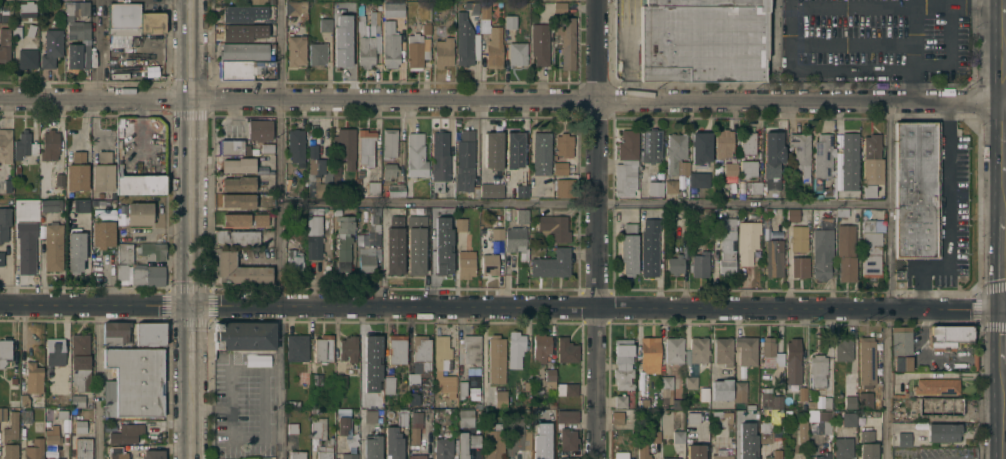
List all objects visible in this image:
building: (257, 1)
road: (871, 2)
road: (976, 2)
building: (701, 3)
building: (536, 4)
building: (472, 7)
building: (559, 7)
building: (27, 8)
building: (296, 8)
building: (393, 9)
road: (1005, 10)
building: (242, 15)
building: (348, 18)
building: (70, 19)
building: (135, 19)
building: (484, 19)
building: (510, 21)
building: (374, 22)
building: (325, 24)
building: (426, 26)
road: (772, 27)
building: (31, 29)
building: (17, 32)
building: (242, 32)
building: (133, 38)
building: (463, 40)
building: (566, 40)
building: (365, 41)
building: (539, 43)
building: (701, 43)
building: (390, 44)
building: (4, 45)
building: (51, 47)
building: (344, 48)
building: (295, 49)
building: (494, 49)
building: (416, 50)
road: (597, 50)
road: (101, 51)
building: (244, 51)
building: (443, 51)
building: (317, 52)
building: (517, 53)
building: (78, 55)
building: (27, 57)
road: (1004, 63)
road: (869, 65)
building: (236, 69)
building: (130, 75)
road: (912, 84)
road: (298, 101)
road: (800, 102)
building: (260, 129)
road: (1004, 141)
building: (389, 142)
building: (723, 142)
building: (747, 143)
building: (49, 144)
building: (563, 144)
building: (5, 145)
building: (24, 145)
building: (230, 146)
building: (296, 146)
building: (345, 146)
building: (650, 146)
building: (700, 146)
building: (267, 147)
building: (365, 147)
building: (513, 150)
building: (492, 151)
building: (398, 152)
building: (541, 153)
building: (676, 153)
building: (801, 153)
building: (415, 155)
building: (822, 156)
building: (871, 158)
building: (772, 159)
building: (439, 160)
building: (848, 161)
building: (465, 162)
building: (626, 163)
building: (242, 165)
building: (560, 167)
building: (730, 168)
building: (747, 168)
building: (389, 170)
building: (77, 171)
building: (103, 171)
building: (335, 172)
building: (360, 172)
building: (317, 177)
building: (57, 179)
building: (136, 179)
building: (699, 179)
building: (358, 180)
building: (238, 183)
building: (670, 185)
building: (754, 185)
building: (814, 185)
building: (373, 187)
building: (563, 187)
building: (655, 187)
building: (336, 189)
building: (916, 189)
building: (396, 190)
building: (490, 191)
building: (521, 191)
building: (868, 191)
building: (93, 194)
road: (1003, 197)
building: (238, 200)
building: (94, 202)
building: (49, 205)
building: (82, 205)
road: (584, 206)
building: (298, 207)
building: (767, 210)
building: (336, 211)
building: (841, 211)
building: (140, 212)
building: (290, 213)
building: (102, 214)
building: (374, 214)
building: (448, 214)
building: (521, 215)
building: (793, 215)
road: (947, 216)
building: (246, 218)
building: (4, 222)
building: (766, 222)
building: (460, 224)
building: (706, 226)
building: (553, 227)
road: (192, 229)
road: (281, 229)
building: (766, 232)
building: (102, 233)
building: (497, 233)
building: (316, 235)
building: (237, 236)
building: (798, 237)
building: (344, 239)
building: (747, 240)
building: (516, 241)
building: (415, 244)
building: (53, 246)
building: (394, 246)
building: (727, 246)
building: (871, 247)
building: (628, 248)
building: (649, 248)
building: (822, 248)
building: (367, 249)
building: (76, 250)
building: (152, 250)
building: (845, 251)
building: (124, 252)
building: (26, 253)
building: (773, 257)
building: (1, 258)
building: (442, 259)
building: (293, 261)
road: (1003, 262)
building: (466, 263)
building: (489, 263)
building: (551, 263)
building: (700, 263)
building: (675, 264)
building: (800, 266)
building: (239, 270)
building: (121, 272)
building: (148, 275)
building: (898, 275)
road: (597, 279)
road: (887, 281)
road: (502, 307)
traffic signals: (1003, 309)
building: (115, 332)
building: (150, 333)
building: (948, 335)
building: (243, 336)
road: (1002, 336)
building: (540, 346)
building: (348, 347)
building: (901, 347)
building: (297, 348)
building: (471, 348)
building: (515, 348)
building: (323, 349)
building: (373, 349)
building: (397, 349)
building: (674, 349)
building: (698, 349)
building: (843, 349)
building: (566, 350)
building: (723, 350)
building: (746, 350)
building: (5, 351)
building: (768, 351)
building: (54, 352)
building: (649, 353)
building: (420, 357)
building: (496, 360)
building: (80, 361)
building: (793, 361)
building: (866, 361)
building: (623, 363)
building: (973, 363)
building: (443, 366)
building: (276, 368)
building: (818, 370)
building: (472, 372)
building: (550, 374)
building: (302, 377)
building: (367, 377)
building: (33, 378)
building: (13, 380)
building: (315, 380)
building: (340, 380)
building: (134, 381)
building: (643, 381)
building: (691, 381)
road: (99, 382)
building: (389, 384)
building: (528, 384)
building: (936, 385)
building: (462, 387)
building: (721, 389)
building: (566, 390)
building: (740, 391)
building: (668, 392)
building: (423, 393)
building: (704, 393)
building: (500, 398)
building: (77, 399)
building: (771, 399)
building: (24, 400)
building: (620, 400)
building: (643, 401)
building: (849, 401)
building: (865, 401)
building: (89, 402)
building: (827, 402)
building: (811, 403)
building: (292, 404)
building: (552, 405)
building: (750, 406)
building: (316, 410)
building: (339, 410)
building: (402, 410)
road: (1001, 411)
building: (61, 412)
building: (536, 412)
building: (788, 412)
building: (3, 413)
building: (752, 414)
building: (779, 414)
building: (25, 415)
building: (370, 415)
building: (739, 415)
building: (567, 416)
building: (465, 417)
building: (617, 417)
building: (399, 418)
building: (693, 418)
building: (824, 420)
building: (418, 422)
building: (342, 425)
building: (11, 426)
building: (80, 426)
building: (292, 427)
building: (153, 428)
building: (802, 430)
building: (944, 431)
building: (765, 432)
building: (125, 433)
building: (547, 433)
building: (514, 434)
building: (52, 435)
building: (321, 436)
building: (654, 436)
building: (678, 436)
building: (740, 436)
building: (845, 436)
building: (903, 438)
building: (568, 439)
building: (352, 440)
building: (474, 440)
building: (393, 443)
building: (494, 443)
building: (463, 445)
building: (866, 445)
building: (372, 446)
building: (83, 448)
building: (442, 448)
building: (34, 449)
building: (750, 450)
building: (10, 451)
building: (643, 451)
building: (694, 451)
building: (544, 452)
building: (116, 453)
building: (152, 454)
building: (297, 454)
building: (721, 454)
building: (621, 455)
building: (823, 455)
building: (349, 456)
building: (417, 456)
building: (772, 457)
building: (53, 458)
building: (567, 458)
building: (670, 458)

